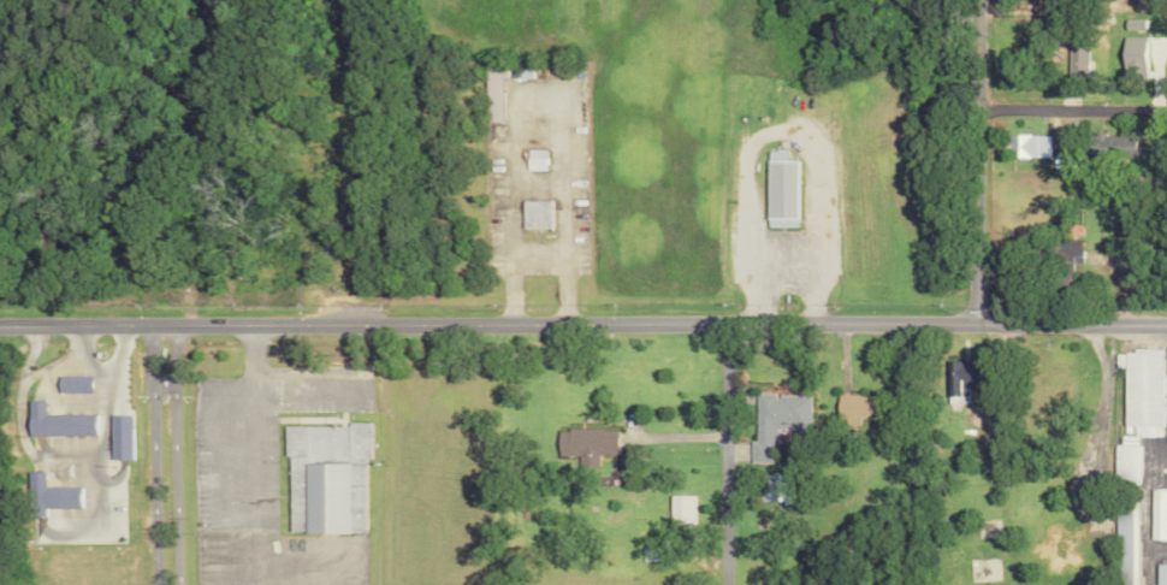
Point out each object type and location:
road: (1026, 12)
road: (848, 14)
building: (1076, 61)
road: (1100, 61)
building: (490, 93)
road: (1073, 107)
building: (1026, 144)
building: (1113, 144)
road: (978, 161)
building: (780, 189)
building: (532, 213)
building: (1072, 250)
road: (582, 321)
road: (90, 357)
building: (960, 379)
building: (76, 384)
building: (851, 409)
building: (1137, 410)
building: (776, 420)
building: (60, 421)
building: (122, 437)
building: (583, 444)
road: (60, 453)
road: (727, 453)
road: (170, 454)
road: (249, 454)
building: (322, 477)
building: (772, 487)
building: (53, 495)
building: (677, 509)
building: (1156, 514)
building: (1125, 542)
building: (1060, 551)
building: (650, 554)

